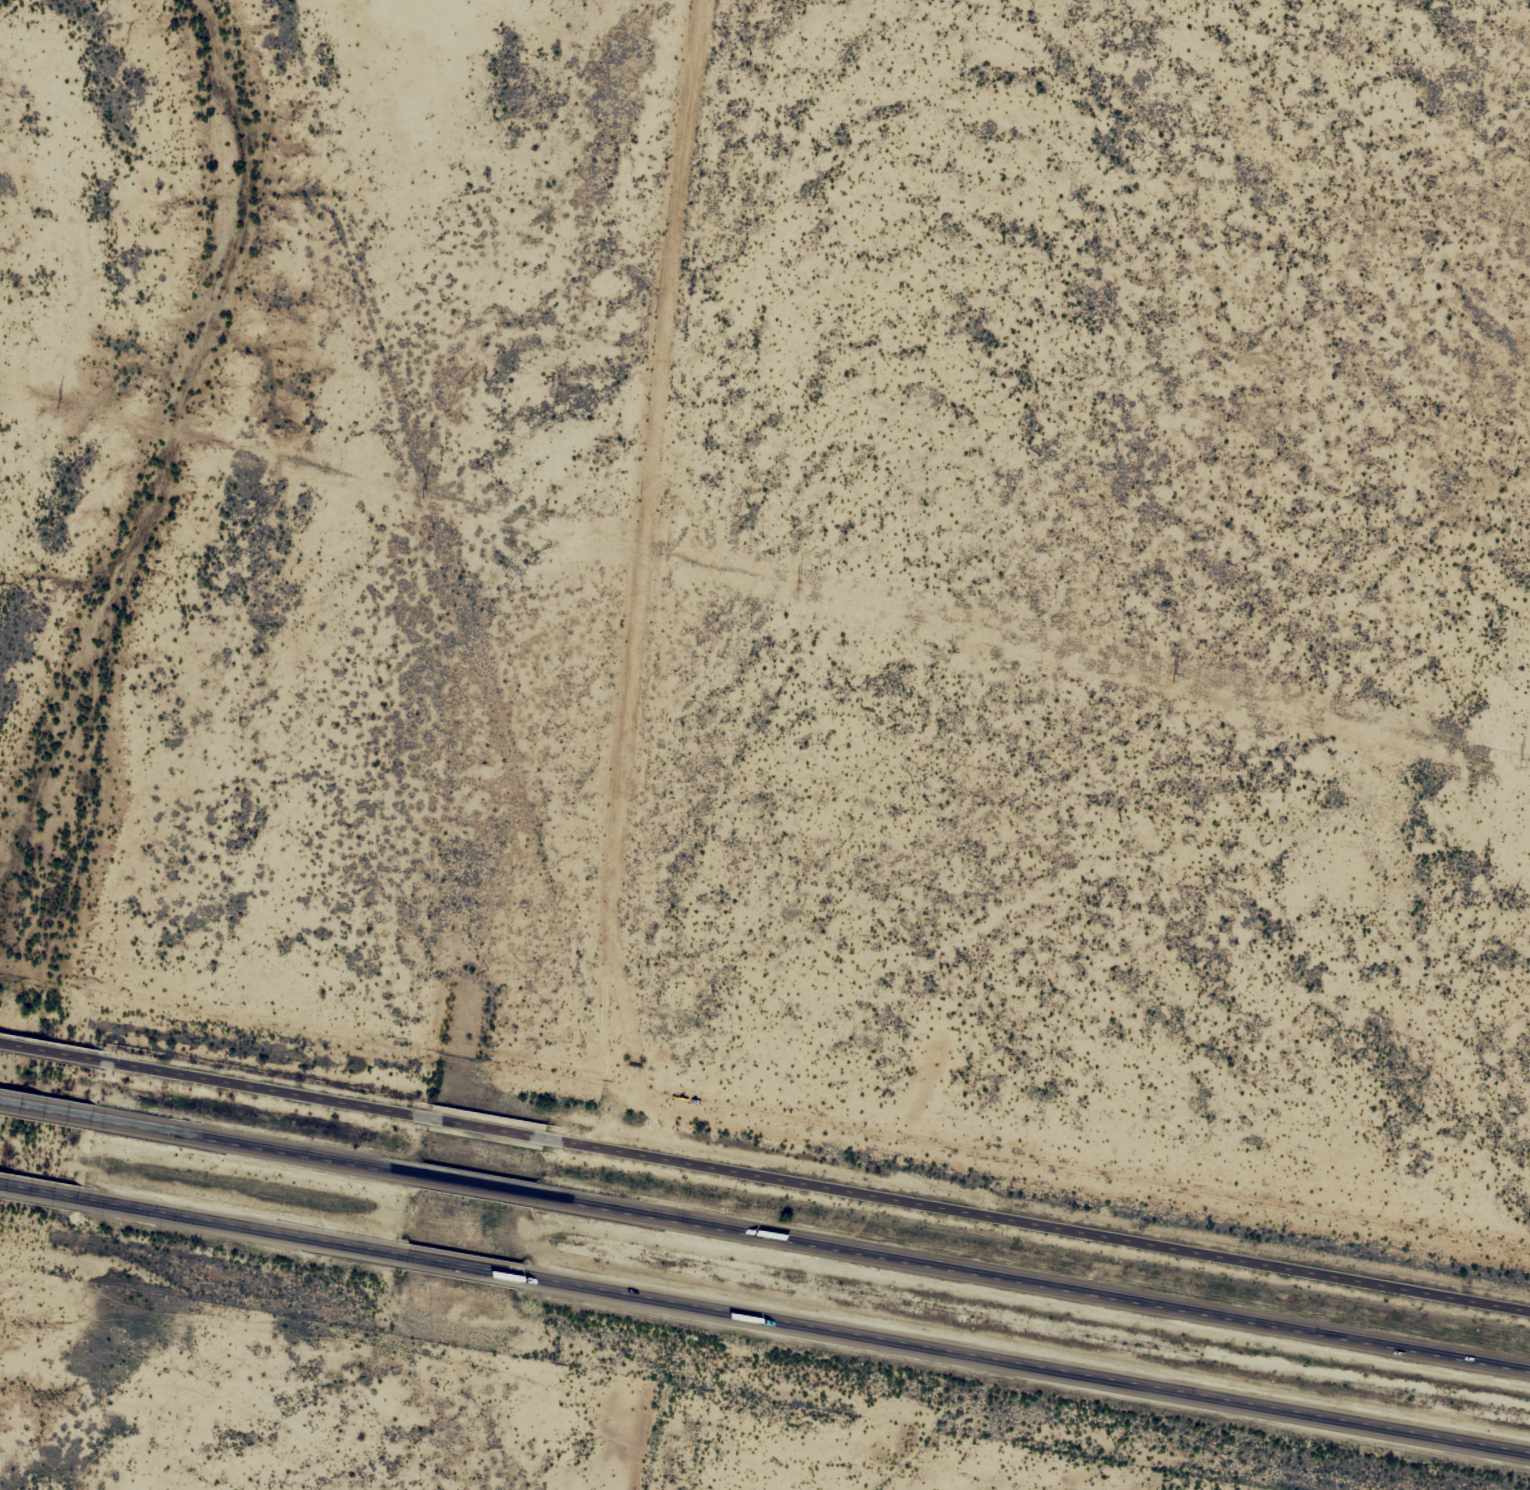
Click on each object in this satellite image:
power tower: (59, 404)
power tower: (423, 493)
power tower: (799, 586)
power tower: (1176, 677)
power tower: (1522, 763)
road: (51, 1053)
road: (265, 1092)
road: (33, 1106)
road: (491, 1132)
road: (232, 1141)
road: (475, 1183)
road: (20, 1185)
road: (219, 1220)
road: (1042, 1227)
road: (471, 1265)
road: (1041, 1281)
road: (1037, 1367)

